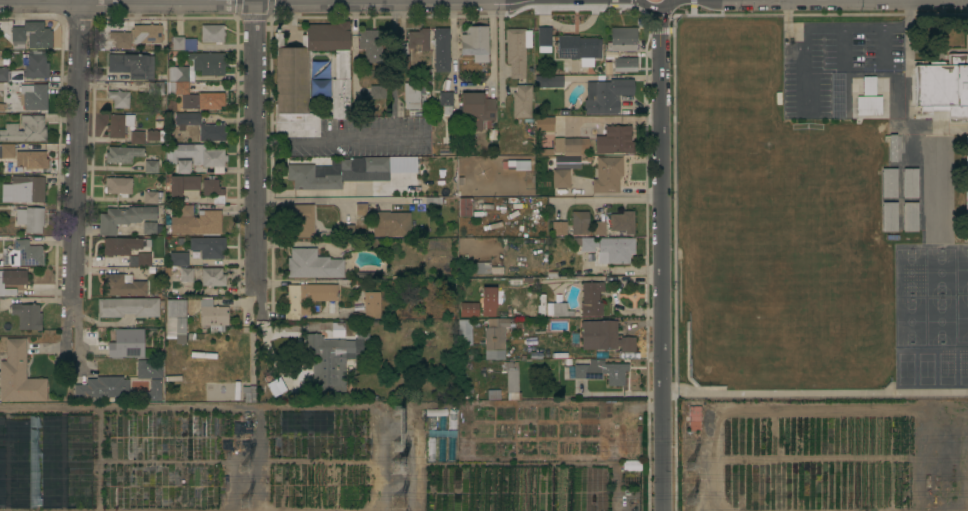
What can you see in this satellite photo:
building: (147, 33)
building: (212, 34)
building: (31, 36)
building: (120, 39)
building: (418, 39)
building: (622, 39)
building: (177, 43)
building: (475, 43)
building: (190, 44)
building: (569, 44)
building: (372, 45)
road: (500, 47)
building: (441, 49)
building: (517, 51)
building: (628, 54)
building: (206, 64)
building: (625, 64)
building: (36, 65)
building: (292, 65)
building: (132, 66)
building: (3, 74)
building: (177, 74)
building: (10, 77)
building: (549, 81)
building: (868, 86)
building: (177, 88)
road: (473, 88)
building: (943, 88)
building: (155, 89)
building: (378, 92)
building: (606, 95)
building: (34, 96)
building: (416, 98)
building: (119, 99)
building: (203, 101)
building: (522, 101)
building: (12, 106)
building: (868, 106)
building: (2, 107)
building: (472, 110)
building: (545, 124)
building: (119, 125)
building: (201, 126)
building: (25, 129)
building: (155, 135)
building: (136, 137)
road: (393, 137)
building: (618, 139)
building: (570, 146)
road: (258, 147)
road: (78, 148)
building: (891, 148)
building: (6, 151)
building: (122, 154)
building: (938, 155)
building: (195, 158)
building: (30, 159)
building: (522, 164)
building: (362, 166)
building: (151, 167)
building: (607, 175)
building: (311, 179)
building: (966, 179)
building: (560, 183)
building: (889, 183)
building: (910, 183)
building: (183, 184)
building: (118, 185)
building: (25, 189)
building: (213, 190)
road: (608, 196)
building: (151, 197)
road: (329, 201)
building: (465, 204)
building: (186, 210)
building: (361, 210)
building: (938, 211)
building: (889, 217)
building: (910, 217)
building: (124, 218)
building: (30, 219)
building: (300, 221)
building: (622, 222)
building: (579, 223)
building: (197, 224)
building: (391, 224)
building: (151, 228)
building: (557, 228)
building: (599, 228)
building: (347, 231)
building: (180, 241)
building: (123, 245)
building: (208, 247)
building: (607, 249)
building: (25, 254)
building: (196, 254)
road: (660, 255)
building: (144, 259)
building: (178, 259)
building: (133, 261)
building: (438, 261)
building: (1, 263)
building: (313, 264)
building: (487, 268)
road: (623, 269)
building: (186, 275)
building: (212, 277)
building: (12, 281)
building: (515, 282)
building: (123, 285)
park: (931, 295)
building: (307, 297)
building: (591, 299)
building: (488, 301)
building: (372, 305)
building: (127, 307)
building: (329, 307)
building: (358, 308)
building: (469, 310)
building: (559, 310)
building: (357, 315)
building: (27, 316)
building: (212, 316)
building: (176, 319)
building: (338, 329)
building: (465, 332)
building: (362, 336)
building: (604, 337)
building: (419, 338)
building: (495, 338)
building: (515, 339)
building: (127, 344)
building: (1, 355)
building: (555, 355)
building: (615, 355)
building: (329, 361)
building: (568, 361)
park: (931, 368)
building: (149, 369)
building: (599, 372)
building: (18, 376)
building: (172, 379)
building: (512, 380)
building: (102, 388)
building: (151, 392)
building: (249, 393)
building: (493, 394)
building: (436, 412)
building: (694, 418)
building: (452, 420)
building: (432, 422)
building: (442, 422)
building: (441, 433)
power tower: (399, 435)
building: (431, 449)
building: (441, 449)
building: (451, 449)
building: (17, 463)
power tower: (252, 470)
power tower: (697, 470)
power tower: (397, 472)
power tower: (253, 499)
power tower: (394, 501)
power tower: (697, 501)

